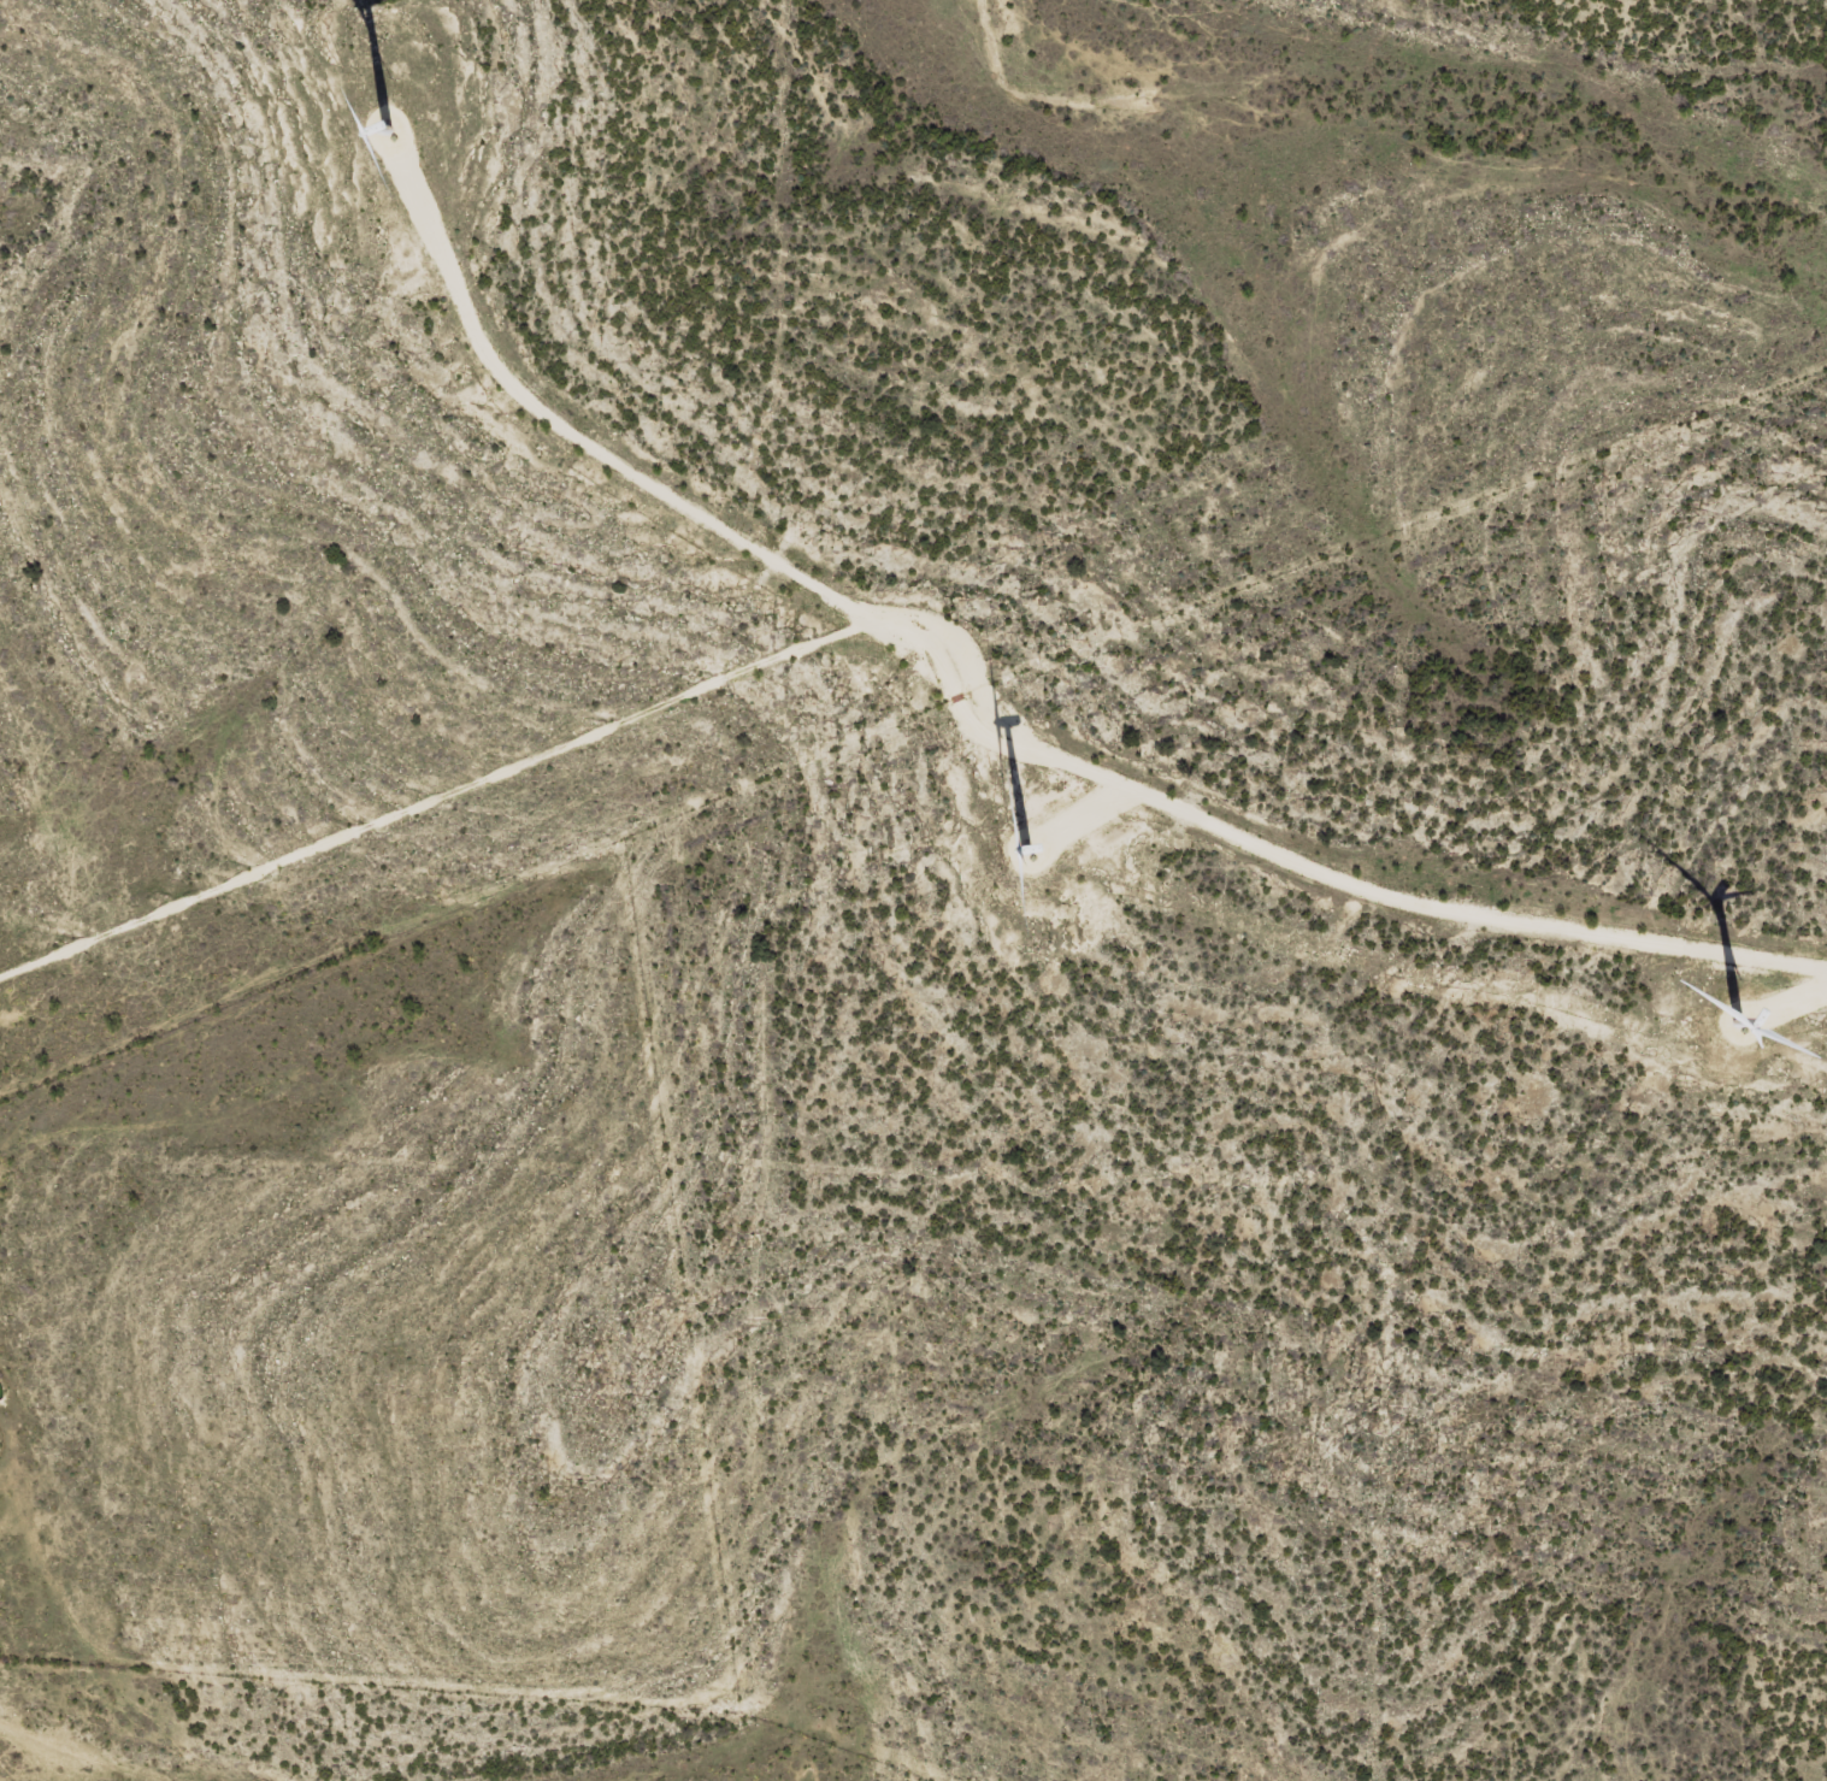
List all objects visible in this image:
wind turbine: (387, 132)
wind turbine: (1030, 848)
wind turbine: (1732, 1037)
road: (93, 1750)

